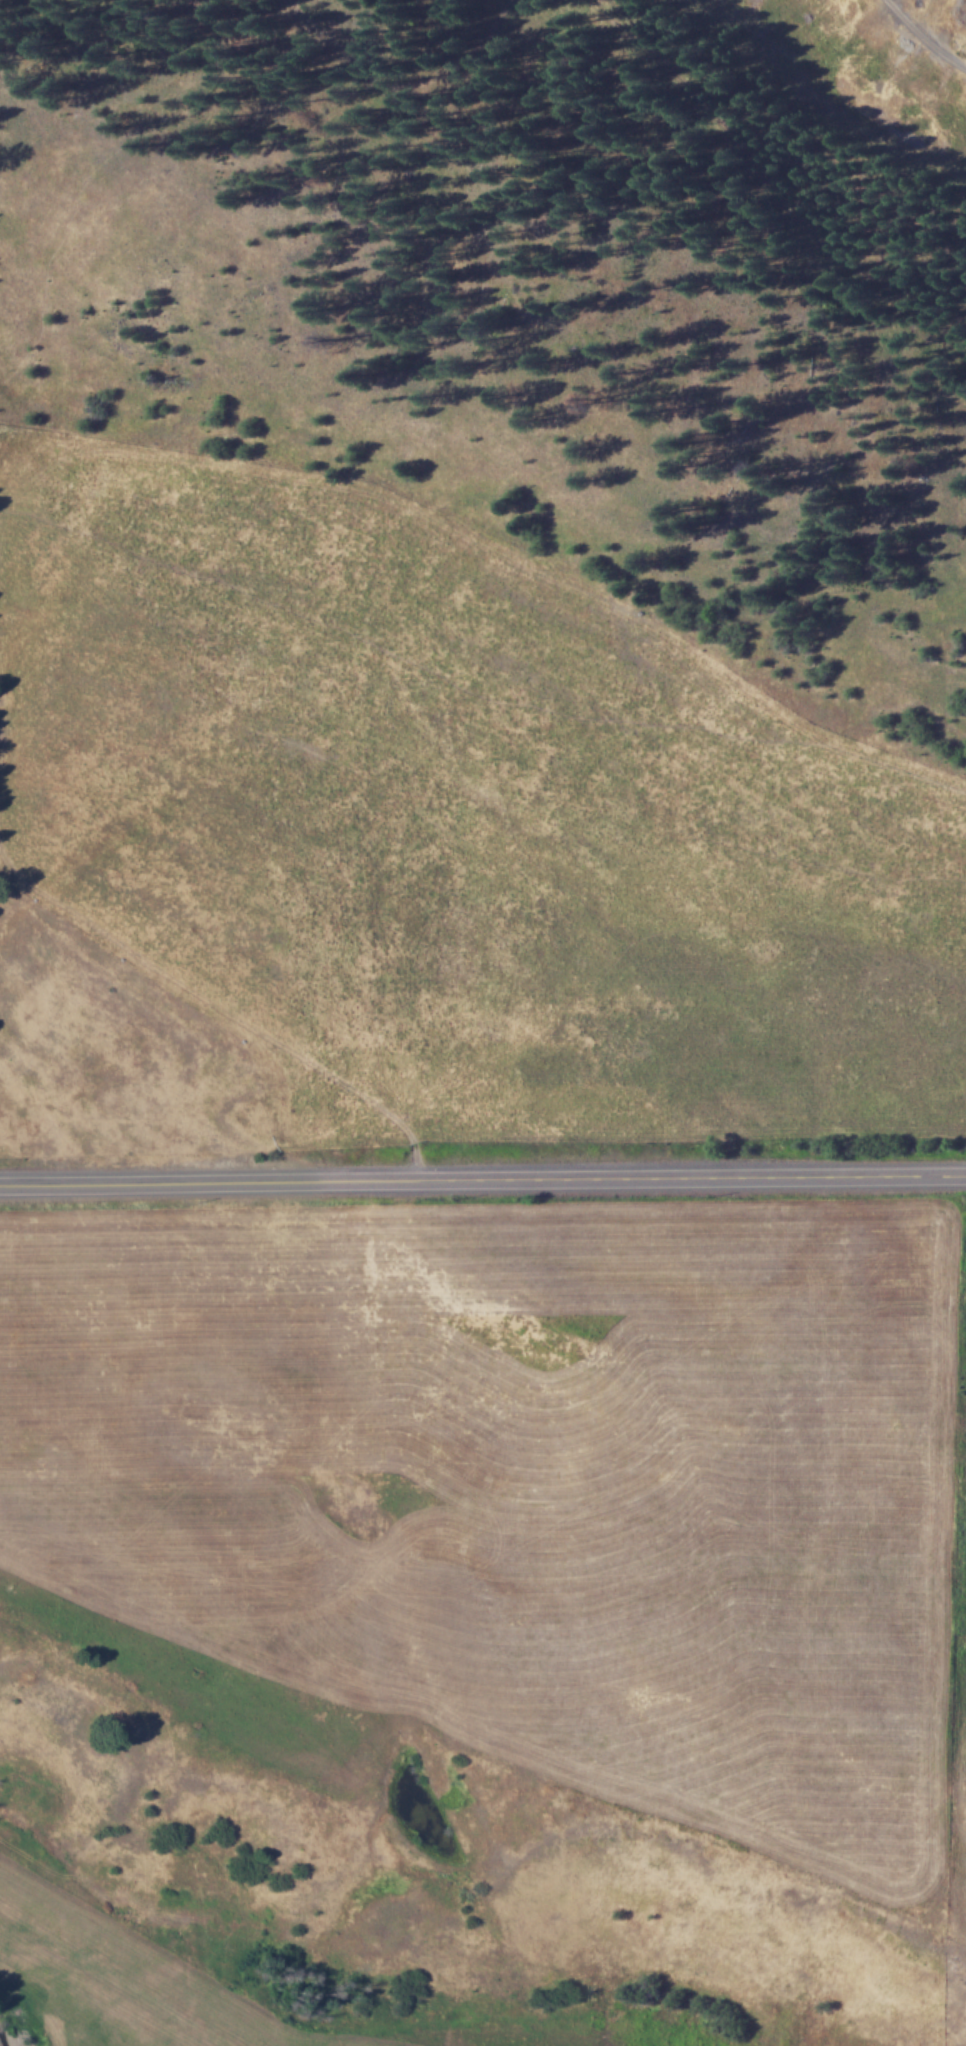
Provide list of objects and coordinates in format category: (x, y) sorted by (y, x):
road: (924, 38)
road: (482, 1176)

